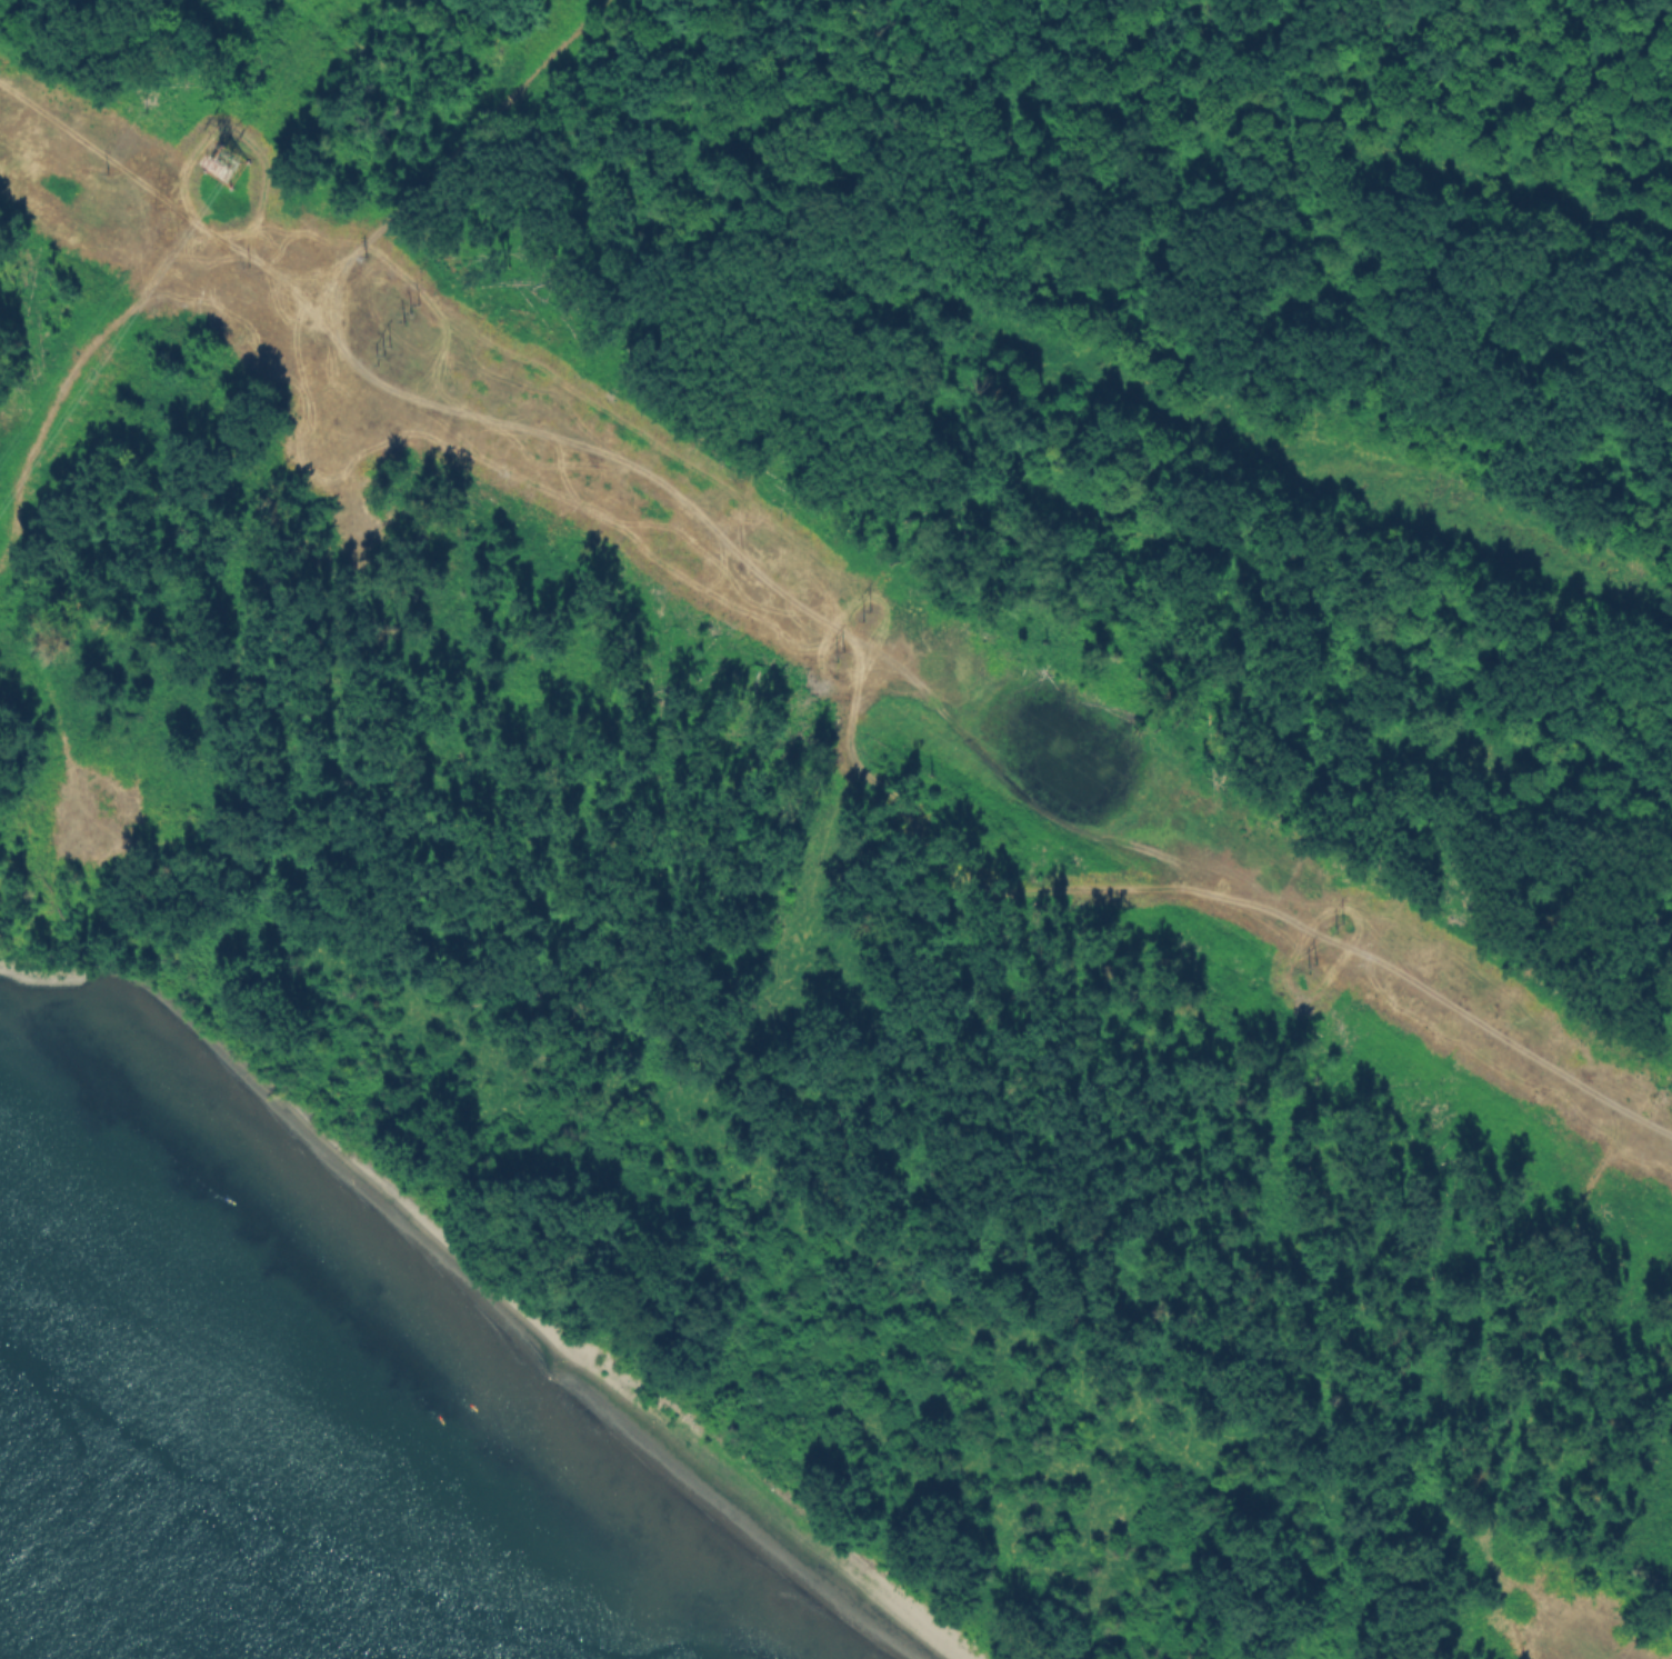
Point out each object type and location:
road: (453, 151)
power tower: (222, 168)
road: (824, 623)
river: (154, 1536)

